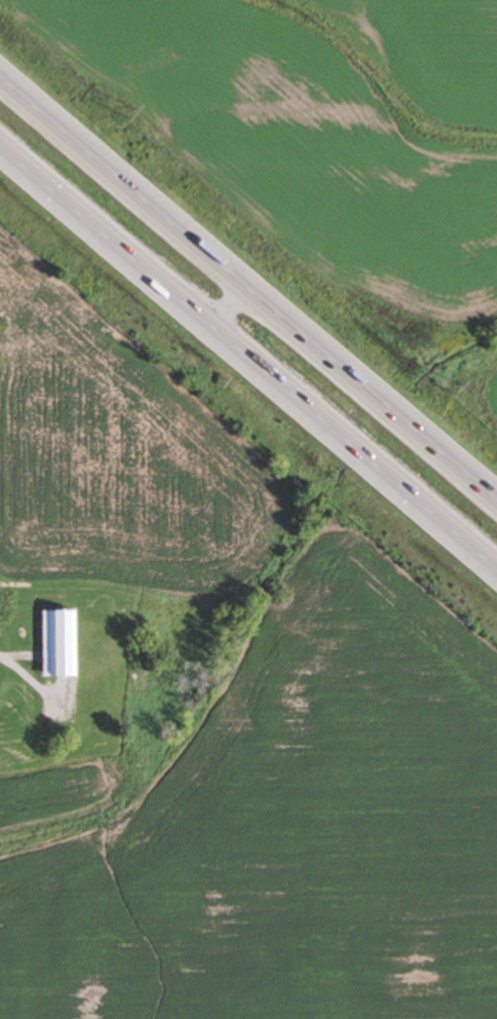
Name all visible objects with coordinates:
power tower: (131, 116)
road: (247, 288)
road: (228, 305)
road: (248, 355)
power tower: (453, 389)
building: (62, 643)

